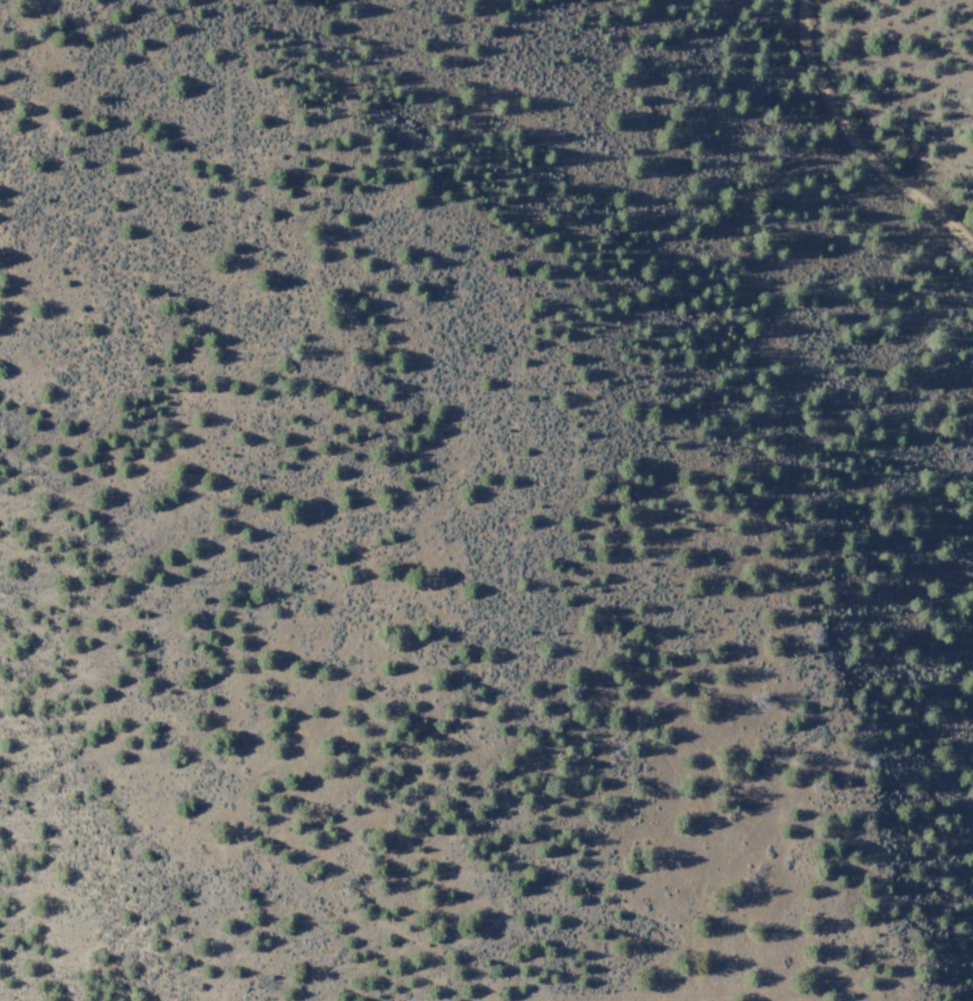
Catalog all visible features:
road: (857, 142)
road: (795, 495)

